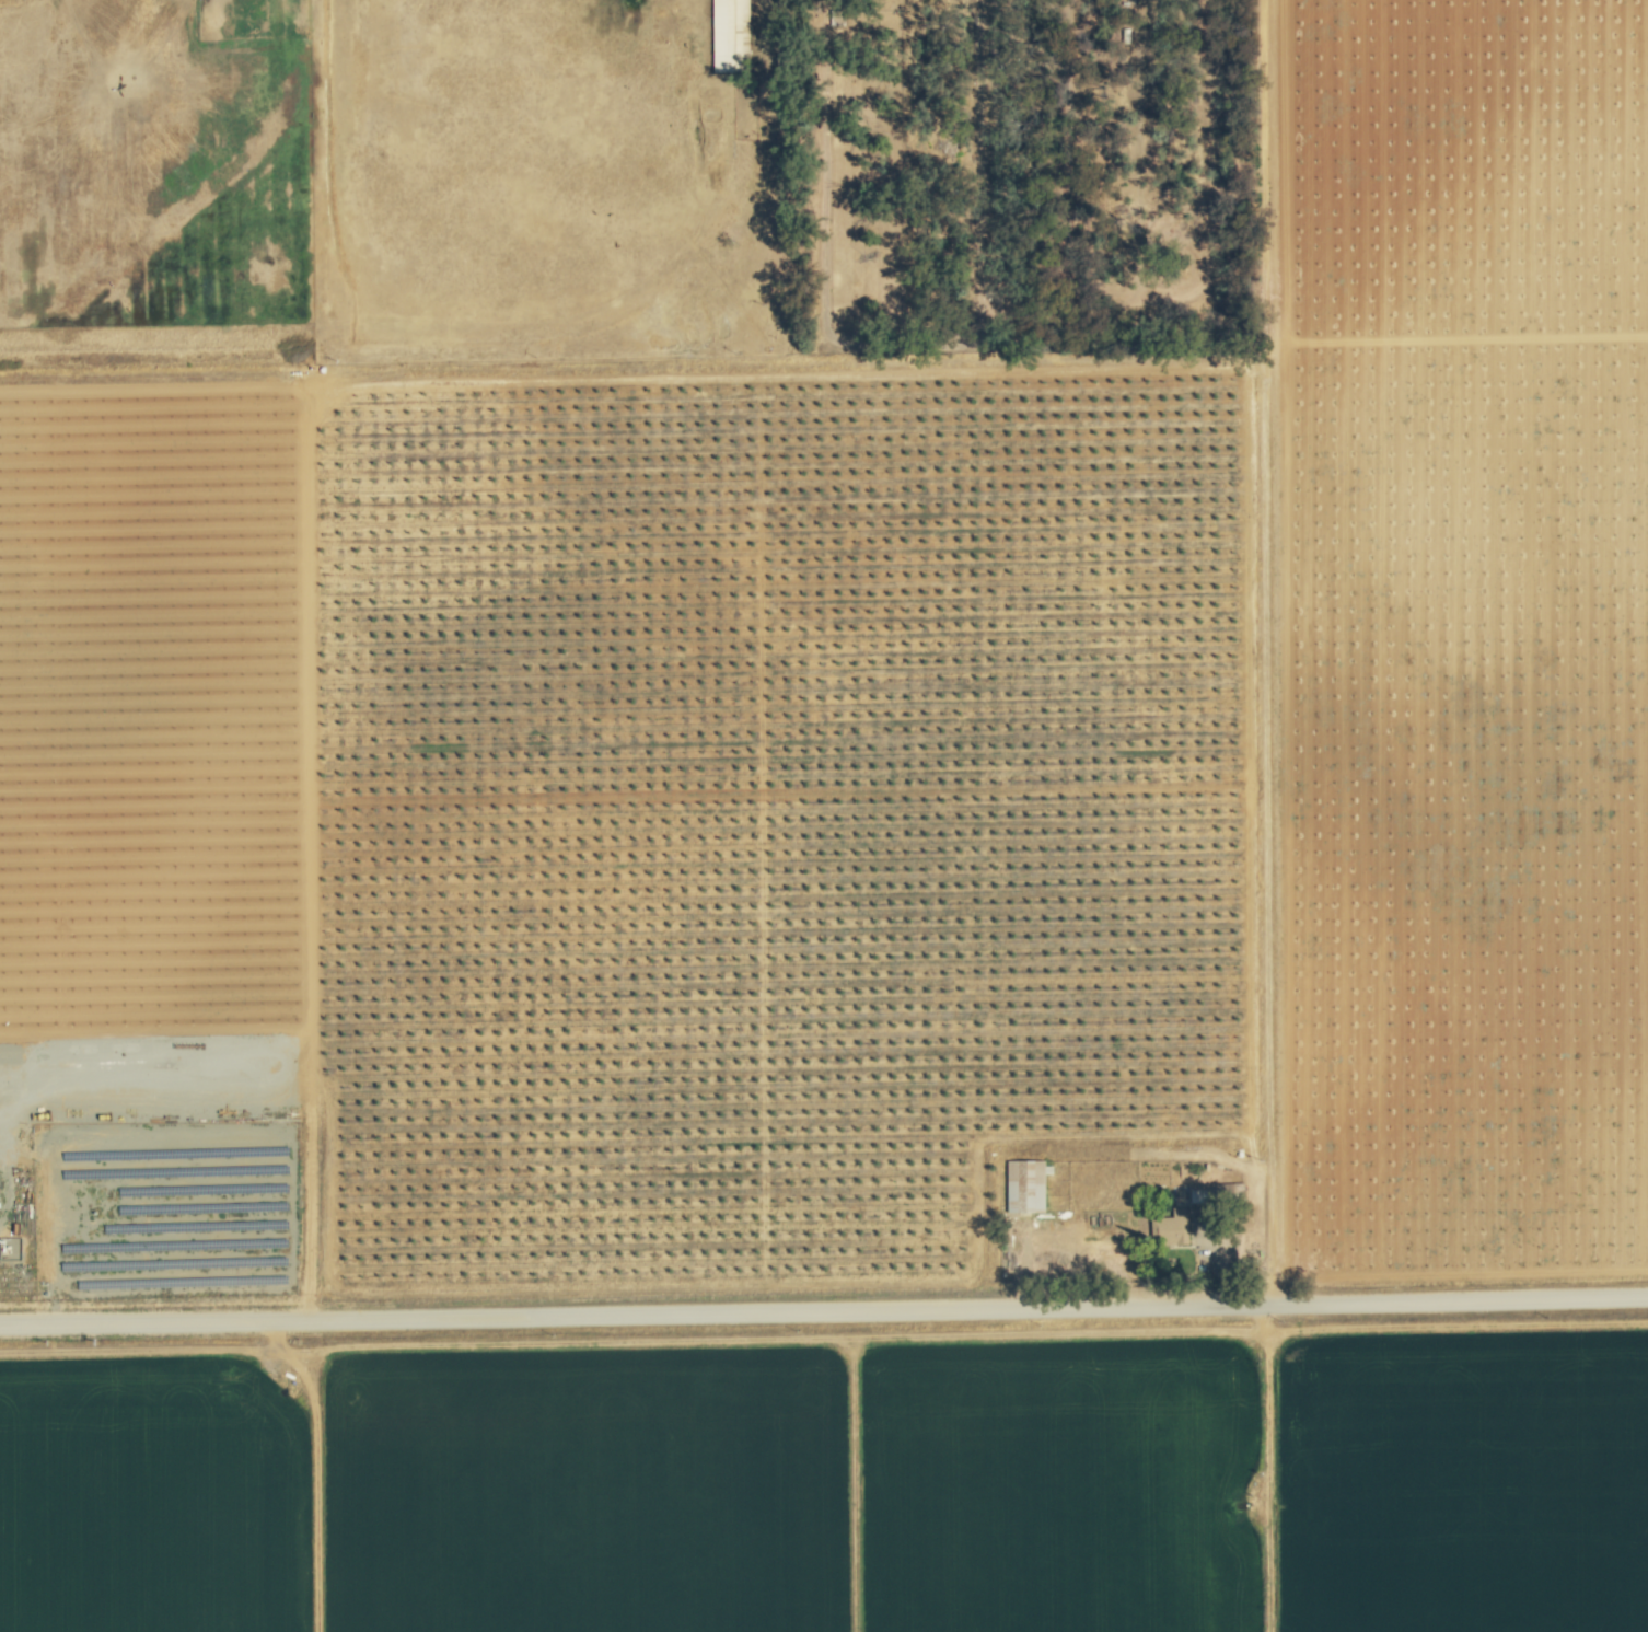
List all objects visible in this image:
building: (731, 35)
building: (1026, 1187)
building: (1182, 1223)
road: (824, 1309)

